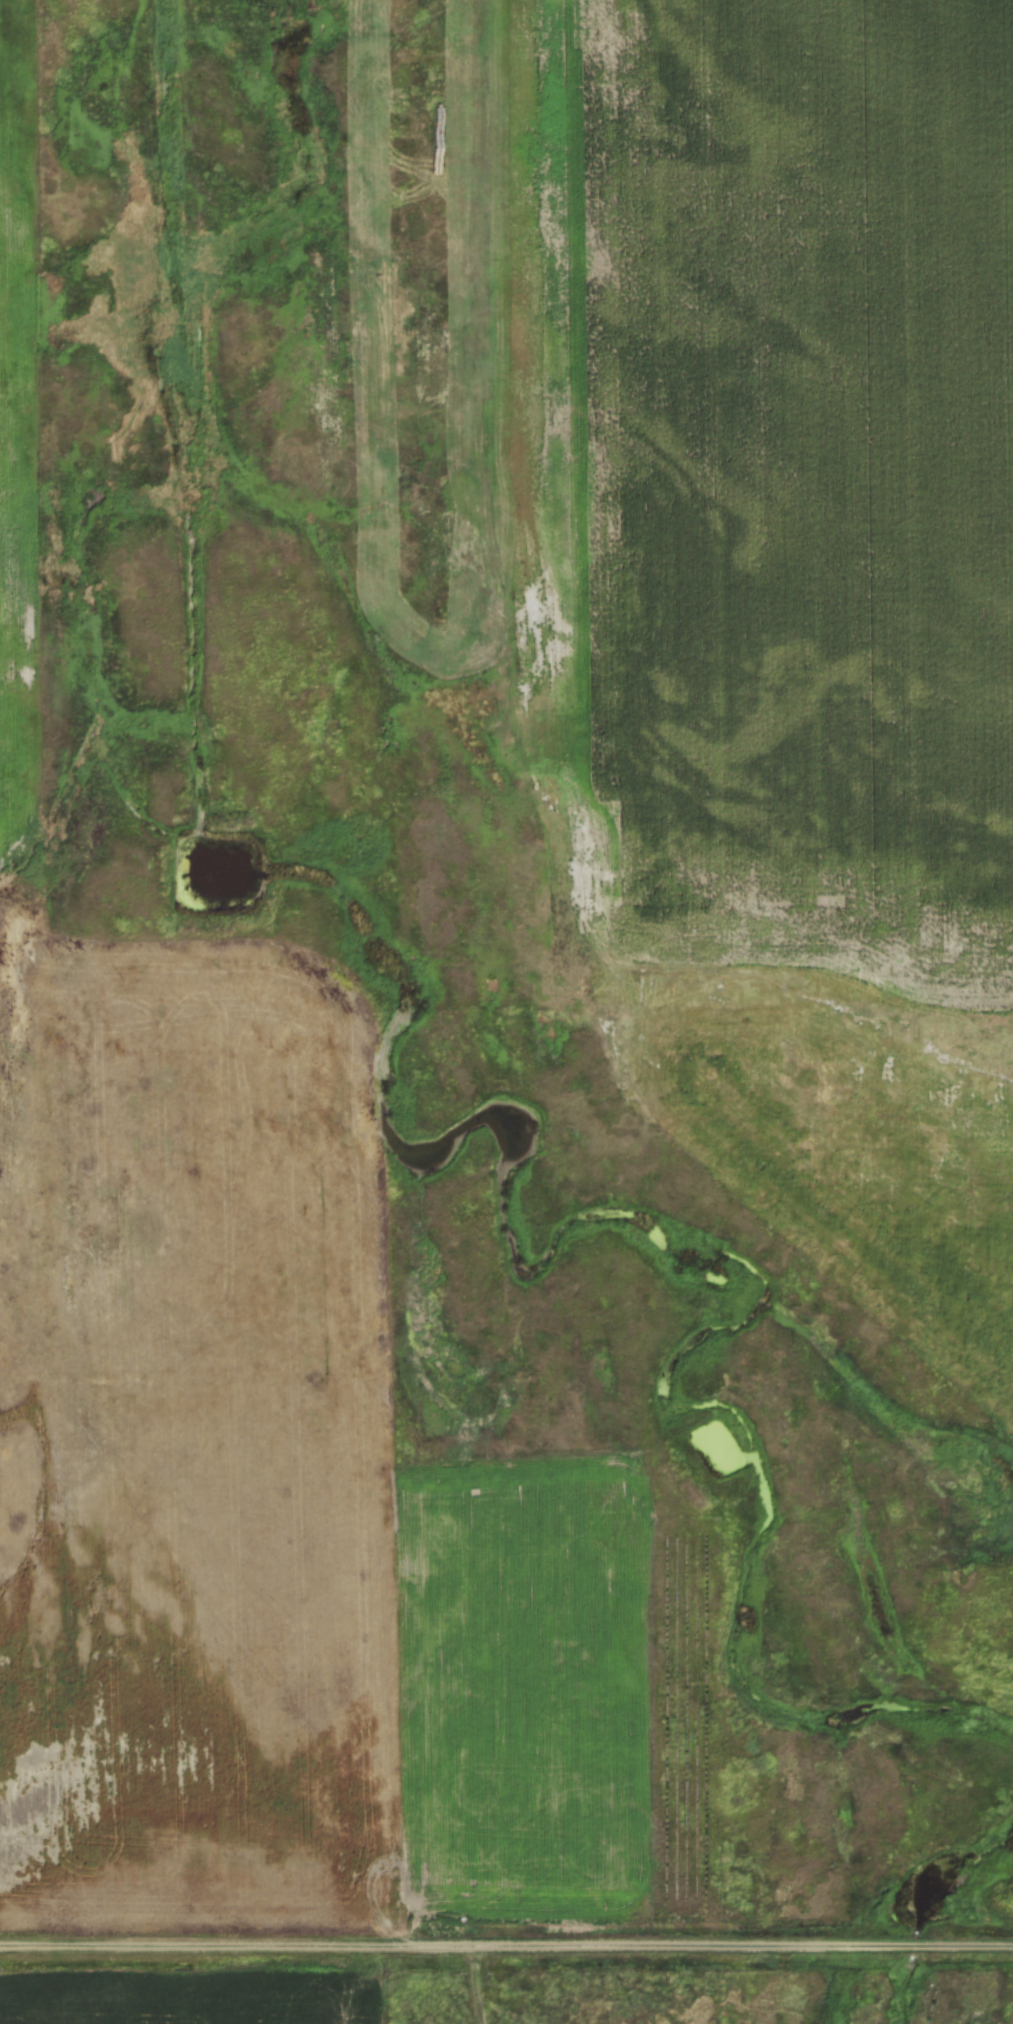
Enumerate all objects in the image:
road: (506, 1946)

